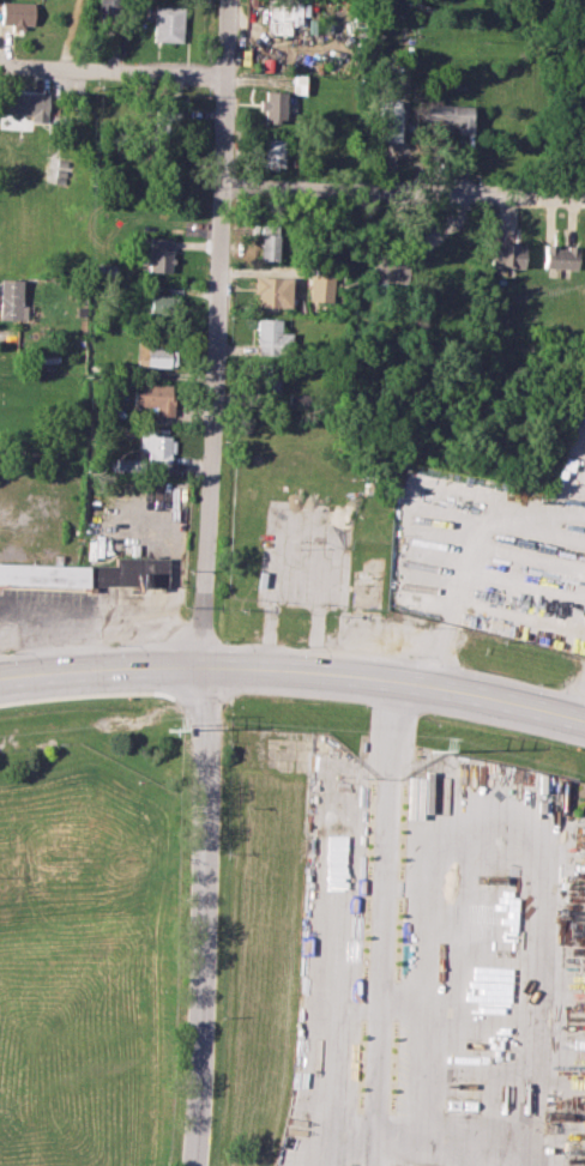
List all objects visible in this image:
building: (16, 13)
building: (282, 17)
building: (167, 23)
road: (111, 67)
building: (26, 104)
building: (271, 105)
building: (450, 115)
building: (390, 121)
building: (271, 152)
road: (402, 193)
building: (267, 241)
building: (156, 254)
building: (502, 254)
building: (557, 256)
building: (386, 270)
building: (318, 288)
building: (270, 290)
building: (11, 300)
building: (161, 304)
building: (270, 337)
building: (155, 356)
building: (265, 381)
building: (152, 397)
building: (155, 447)
road: (460, 561)
building: (90, 573)
road: (205, 582)
road: (295, 669)
road: (580, 708)
power tower: (168, 727)
power tower: (433, 749)
road: (384, 901)
road: (468, 1131)
road: (354, 1146)
road: (368, 1146)

